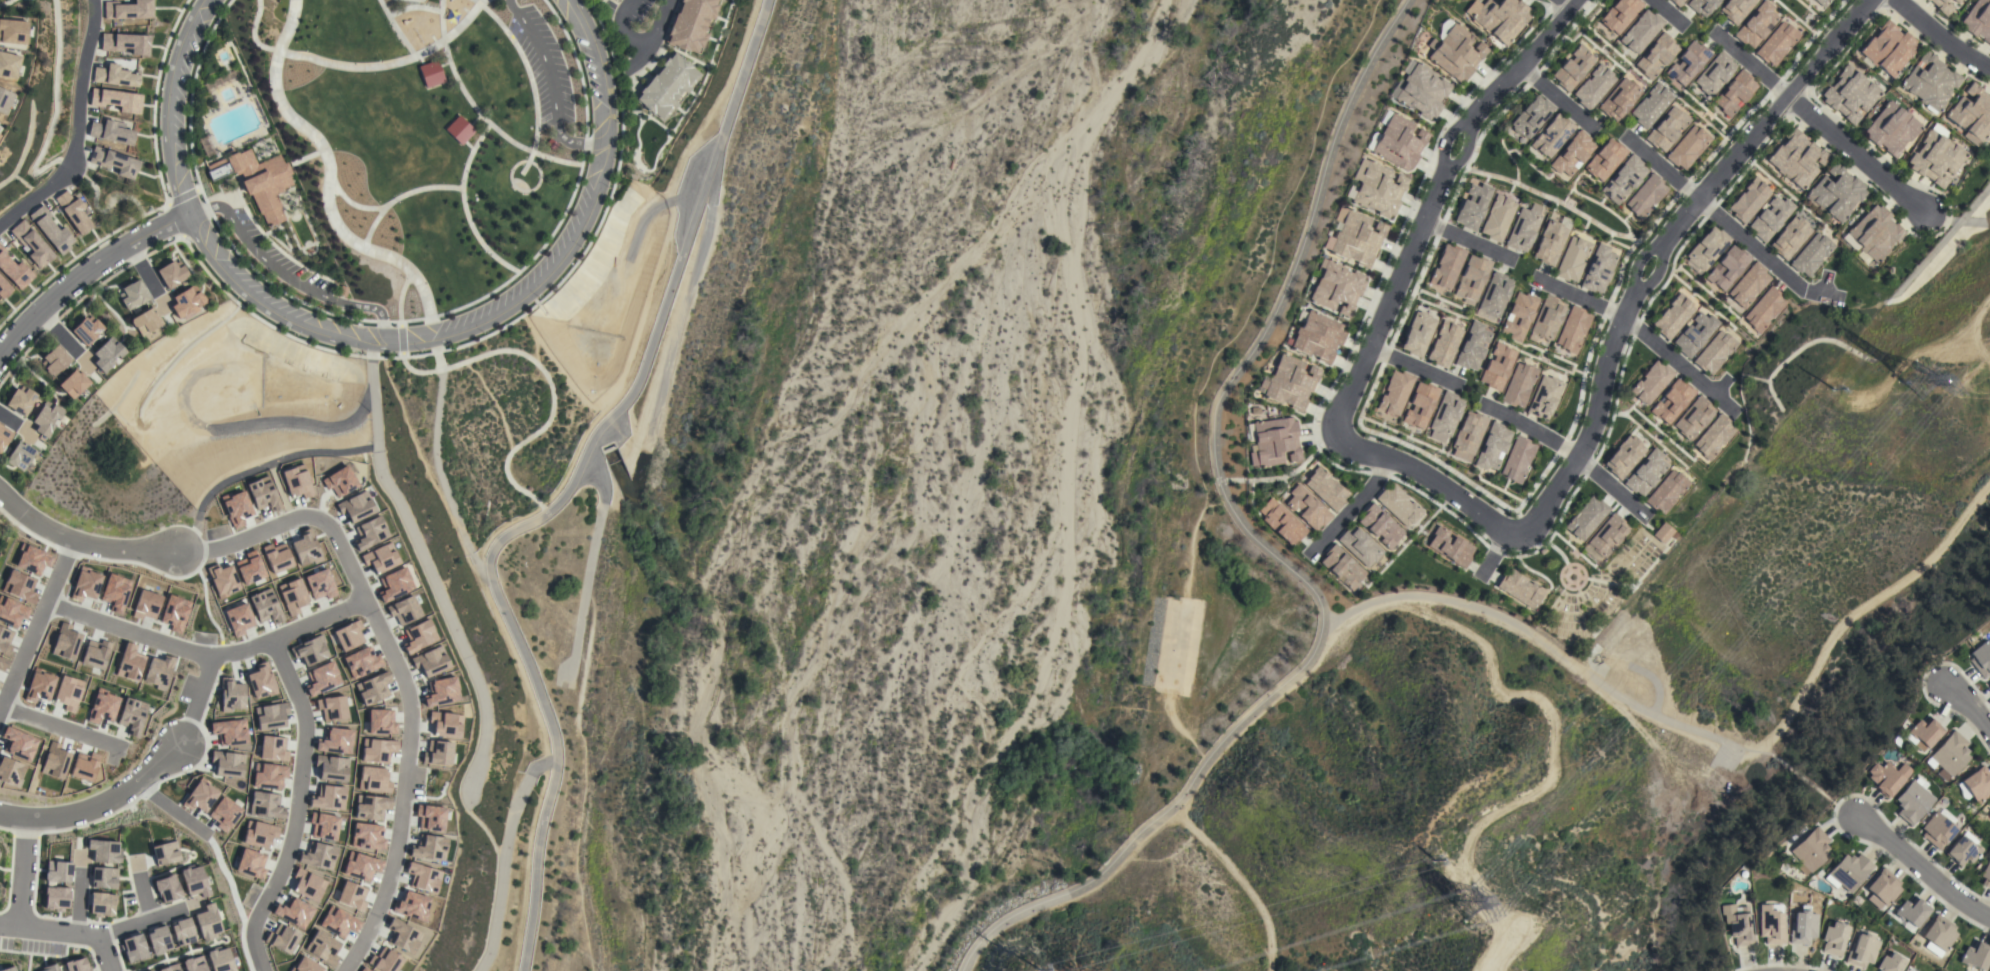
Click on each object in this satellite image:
building: (619, 0)
building: (1926, 0)
building: (1957, 1)
building: (1677, 2)
building: (1822, 2)
road: (1568, 6)
building: (1702, 6)
building: (1942, 6)
road: (413, 7)
building: (1736, 9)
building: (127, 10)
road: (1671, 12)
building: (1619, 15)
building: (1499, 18)
building: (1978, 20)
building: (691, 24)
building: (1756, 24)
road: (394, 29)
building: (12, 31)
building: (1641, 31)
road: (1943, 35)
road: (639, 43)
building: (1776, 43)
building: (123, 44)
building: (1888, 48)
building: (1455, 51)
building: (1655, 55)
building: (1688, 63)
building: (8, 65)
road: (1755, 66)
road: (356, 67)
building: (1573, 68)
parking lot: (545, 70)
building: (431, 73)
building: (1715, 73)
building: (115, 76)
road: (529, 76)
building: (220, 82)
building: (1930, 82)
building: (666, 86)
building: (1594, 87)
road: (551, 88)
building: (1422, 90)
building: (1734, 92)
building: (1850, 94)
building: (1619, 99)
building: (4, 100)
building: (116, 100)
road: (1561, 100)
building: (1651, 105)
building: (1972, 115)
building: (1531, 117)
road: (486, 121)
road: (77, 128)
building: (1667, 129)
building: (1891, 129)
building: (459, 130)
building: (0, 132)
building: (109, 133)
building: (1552, 135)
building: (1399, 142)
park: (387, 145)
building: (205, 147)
building: (1688, 147)
building: (1572, 153)
road: (1859, 154)
road: (306, 158)
building: (1936, 158)
building: (1605, 159)
building: (1796, 159)
building: (112, 162)
road: (511, 168)
road: (1669, 171)
building: (1624, 179)
building: (258, 181)
building: (1377, 188)
building: (1836, 193)
building: (1646, 196)
road: (399, 197)
road: (327, 198)
building: (1749, 200)
road: (1434, 203)
road: (352, 205)
building: (1473, 206)
building: (73, 211)
building: (1498, 218)
building: (1770, 218)
road: (467, 219)
building: (1523, 228)
building: (51, 230)
building: (1874, 232)
building: (1355, 237)
building: (1790, 237)
road: (1469, 243)
building: (1550, 243)
building: (31, 244)
building: (1707, 248)
road: (1764, 254)
building: (1811, 254)
parking lot: (275, 259)
building: (1573, 259)
building: (1447, 266)
building: (1727, 267)
building: (1598, 269)
building: (14, 271)
road: (82, 274)
building: (171, 274)
road: (285, 277)
building: (1472, 279)
building: (1749, 285)
building: (1336, 287)
building: (3, 289)
road: (399, 294)
building: (133, 295)
building: (1495, 295)
road: (1581, 300)
building: (186, 302)
building: (1764, 309)
building: (1519, 316)
building: (1673, 316)
building: (1548, 317)
building: (145, 321)
building: (86, 329)
building: (1573, 329)
building: (1418, 334)
building: (1695, 334)
road: (400, 336)
building: (1318, 336)
road: (1616, 341)
building: (1444, 344)
building: (1472, 346)
road: (386, 347)
building: (1714, 352)
building: (107, 354)
building: (54, 360)
road: (1675, 363)
building: (1497, 366)
road: (1416, 367)
road: (414, 372)
power tower: (1913, 377)
building: (1290, 382)
building: (1651, 382)
building: (73, 384)
building: (1519, 385)
building: (1395, 392)
building: (1544, 397)
building: (20, 400)
building: (1672, 401)
road: (551, 402)
building: (1420, 405)
building: (1445, 416)
building: (46, 418)
building: (1693, 418)
park: (494, 420)
road: (1539, 433)
building: (4, 435)
building: (1468, 435)
building: (1714, 436)
building: (1274, 442)
building: (1492, 446)
road: (435, 450)
building: (19, 456)
building: (1625, 456)
building: (1517, 459)
building: (1646, 472)
road: (1285, 477)
road: (1612, 483)
building: (1326, 488)
road: (566, 491)
building: (1666, 491)
building: (1399, 505)
road: (1355, 506)
building: (1307, 507)
building: (1587, 518)
building: (1281, 522)
building: (1380, 526)
building: (1664, 533)
building: (1608, 535)
road: (81, 544)
building: (1360, 546)
building: (1451, 547)
road: (1265, 548)
road: (1494, 554)
road: (590, 559)
building: (1342, 566)
road: (59, 569)
building: (1520, 588)
road: (151, 637)
road: (1550, 650)
building: (1981, 658)
road: (403, 664)
building: (1989, 684)
building: (67, 693)
building: (230, 695)
road: (1967, 705)
building: (101, 708)
building: (130, 716)
road: (59, 727)
building: (1925, 731)
building: (228, 732)
building: (271, 748)
building: (1950, 754)
building: (226, 764)
building: (82, 768)
road: (1795, 773)
building: (267, 775)
building: (1887, 777)
building: (1978, 784)
road: (297, 792)
building: (199, 797)
building: (1912, 802)
road: (1835, 804)
building: (264, 805)
road: (100, 806)
building: (223, 813)
building: (1989, 815)
building: (1937, 830)
building: (257, 834)
building: (1963, 849)
building: (1810, 850)
building: (103, 851)
building: (164, 853)
road: (504, 857)
road: (218, 862)
building: (249, 864)
road: (1920, 868)
building: (57, 872)
building: (1848, 872)
road: (22, 874)
building: (1986, 874)
building: (103, 878)
building: (193, 880)
building: (166, 888)
building: (1883, 888)
building: (55, 898)
building: (101, 904)
power tower: (1458, 906)
building: (1912, 911)
road: (141, 919)
building: (206, 923)
building: (1738, 924)
building: (1771, 924)
building: (1803, 926)
road: (67, 932)
building: (181, 932)
building: (1940, 933)
building: (1834, 939)
building: (157, 940)
building: (133, 948)
building: (1862, 951)
building: (1976, 955)
building: (202, 963)
building: (1890, 963)
building: (75, 965)
building: (9, 969)
building: (50, 969)
building: (1908, 969)

